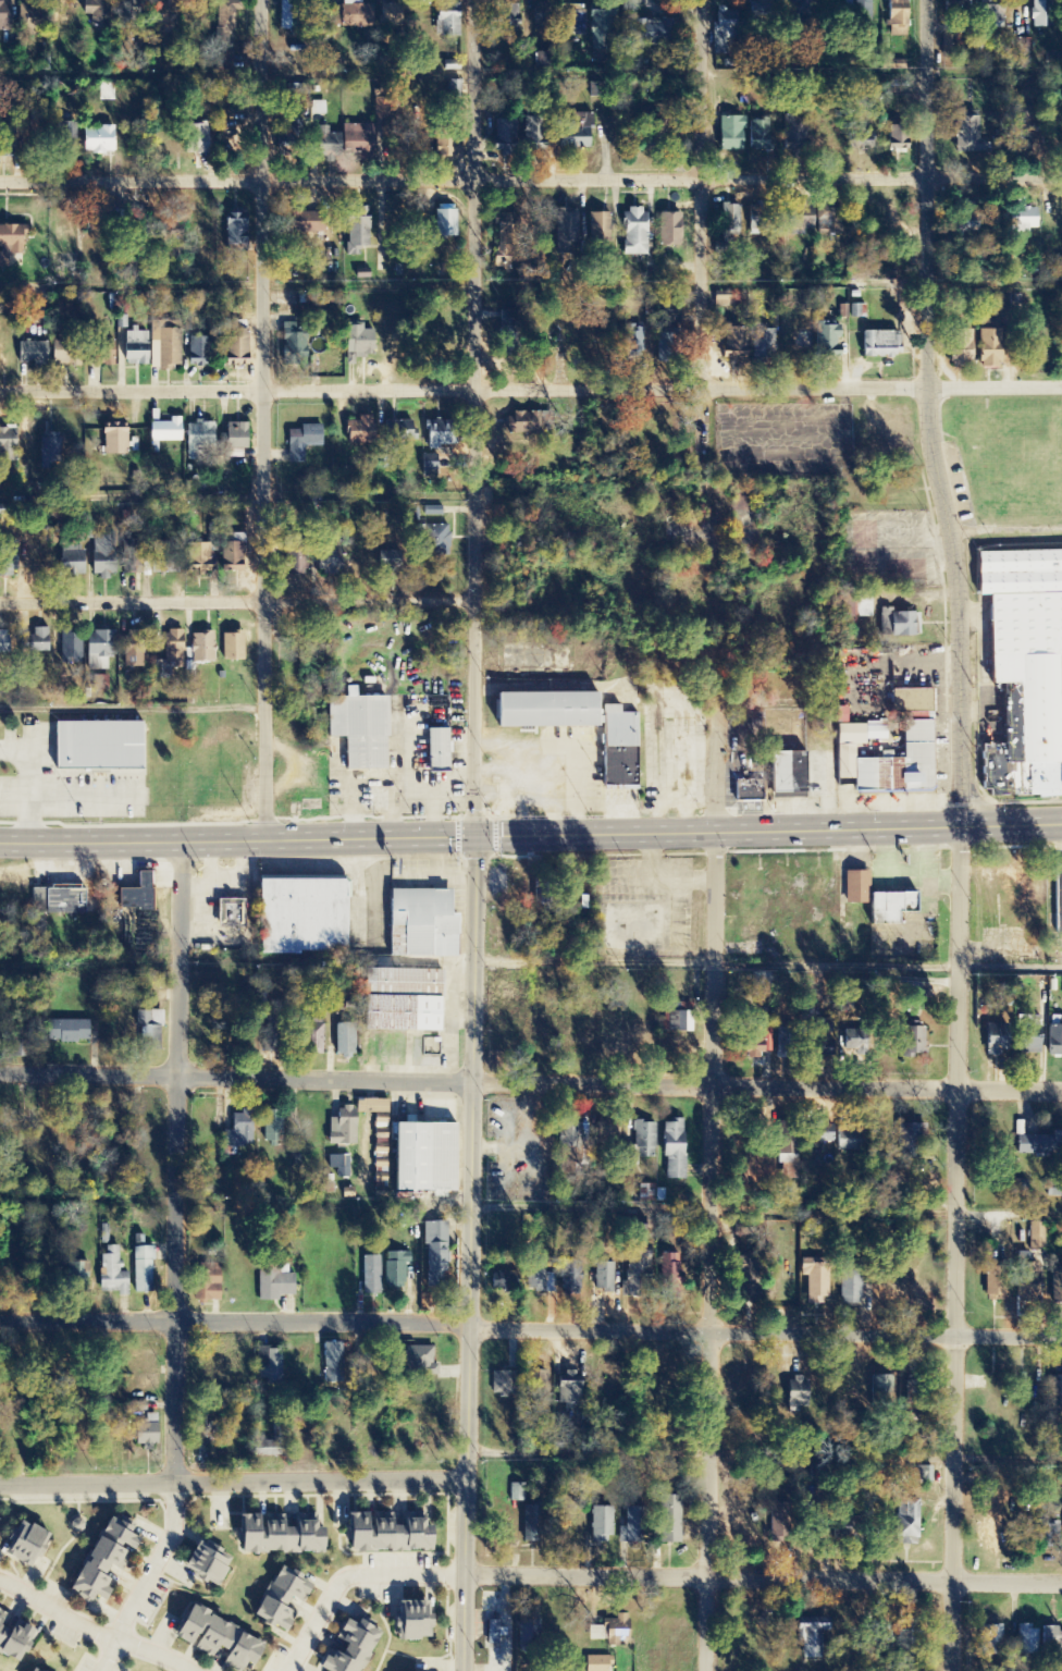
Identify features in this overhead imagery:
building: (128, 8)
building: (761, 10)
building: (796, 11)
building: (990, 13)
building: (88, 14)
building: (354, 15)
building: (862, 15)
building: (4, 16)
building: (390, 17)
building: (896, 17)
building: (225, 19)
building: (507, 19)
building: (321, 20)
building: (446, 21)
building: (33, 25)
building: (598, 30)
building: (723, 32)
building: (654, 33)
building: (1024, 46)
building: (221, 62)
building: (892, 65)
building: (454, 89)
building: (107, 93)
building: (298, 109)
building: (794, 132)
building: (730, 134)
building: (966, 135)
building: (503, 136)
building: (573, 136)
building: (758, 136)
building: (195, 139)
building: (897, 139)
building: (1020, 139)
building: (96, 142)
building: (861, 142)
building: (345, 144)
building: (446, 150)
road: (531, 180)
building: (819, 213)
building: (443, 222)
building: (800, 222)
building: (962, 222)
building: (1021, 224)
building: (730, 225)
building: (506, 226)
building: (565, 226)
building: (136, 229)
building: (600, 229)
building: (668, 230)
building: (356, 231)
building: (234, 232)
building: (632, 233)
road: (701, 233)
building: (175, 239)
building: (9, 243)
building: (724, 303)
building: (856, 312)
building: (670, 318)
building: (633, 341)
building: (826, 341)
building: (356, 344)
building: (733, 344)
building: (765, 344)
building: (988, 344)
building: (164, 345)
building: (877, 345)
building: (136, 347)
building: (292, 348)
building: (959, 348)
building: (235, 349)
building: (196, 353)
building: (32, 354)
building: (103, 355)
road: (530, 390)
road: (928, 415)
road: (264, 420)
building: (515, 426)
building: (164, 432)
building: (358, 432)
building: (398, 432)
building: (235, 437)
building: (435, 438)
building: (196, 440)
building: (113, 441)
building: (301, 443)
building: (8, 445)
building: (49, 449)
building: (429, 467)
building: (232, 551)
building: (102, 556)
building: (326, 558)
building: (8, 560)
building: (197, 560)
building: (163, 561)
building: (71, 563)
building: (296, 563)
building: (132, 565)
road: (235, 603)
building: (864, 604)
building: (903, 625)
building: (38, 641)
building: (4, 642)
building: (231, 648)
building: (203, 649)
building: (87, 650)
building: (169, 655)
building: (132, 658)
building: (1025, 667)
building: (910, 702)
road: (133, 710)
building: (841, 716)
building: (578, 723)
building: (360, 727)
building: (437, 747)
building: (96, 748)
building: (916, 752)
road: (715, 761)
building: (788, 775)
building: (748, 791)
road: (471, 835)
road: (531, 835)
traffic signals: (471, 836)
building: (1012, 893)
building: (135, 896)
building: (1058, 896)
building: (66, 900)
building: (876, 900)
building: (231, 914)
building: (302, 914)
building: (422, 921)
building: (403, 998)
building: (681, 1022)
building: (818, 1025)
building: (148, 1030)
building: (67, 1032)
building: (1028, 1035)
building: (312, 1039)
building: (344, 1041)
building: (1054, 1041)
building: (912, 1042)
building: (993, 1045)
building: (750, 1049)
road: (530, 1082)
building: (372, 1107)
building: (273, 1128)
building: (344, 1128)
building: (239, 1131)
building: (573, 1138)
building: (820, 1138)
building: (850, 1139)
building: (909, 1139)
building: (642, 1141)
building: (1038, 1143)
building: (672, 1150)
building: (422, 1158)
road: (176, 1162)
building: (341, 1166)
building: (647, 1193)
building: (1037, 1238)
road: (954, 1249)
road: (709, 1251)
building: (434, 1255)
building: (395, 1269)
building: (144, 1270)
building: (113, 1273)
building: (635, 1274)
building: (371, 1276)
building: (570, 1277)
building: (670, 1277)
building: (78, 1278)
building: (540, 1278)
building: (604, 1278)
building: (1025, 1281)
building: (503, 1282)
building: (273, 1283)
building: (814, 1283)
building: (208, 1285)
building: (992, 1285)
building: (849, 1291)
road: (531, 1327)
building: (332, 1355)
building: (141, 1360)
building: (419, 1363)
building: (269, 1366)
building: (145, 1383)
building: (502, 1384)
building: (535, 1387)
building: (568, 1389)
building: (880, 1392)
building: (794, 1394)
building: (1053, 1399)
building: (146, 1433)
building: (269, 1445)
building: (923, 1475)
road: (231, 1482)
building: (517, 1494)
building: (667, 1521)
building: (634, 1524)
building: (905, 1524)
building: (529, 1525)
building: (600, 1526)
building: (280, 1532)
building: (387, 1532)
building: (1047, 1537)
building: (25, 1543)
building: (104, 1558)
building: (207, 1561)
road: (761, 1577)
building: (282, 1596)
building: (415, 1618)
building: (610, 1632)
building: (528, 1633)
building: (493, 1634)
building: (14, 1637)
building: (811, 1637)
building: (881, 1637)
building: (220, 1638)
building: (1026, 1642)
building: (989, 1643)
building: (1051, 1644)
building: (349, 1646)
building: (595, 1663)
building: (35, 1669)

